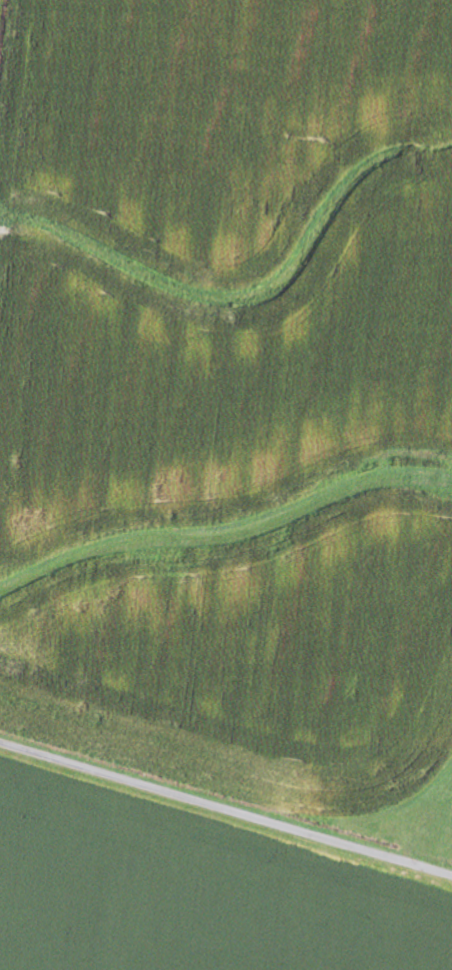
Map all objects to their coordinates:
road: (225, 808)

